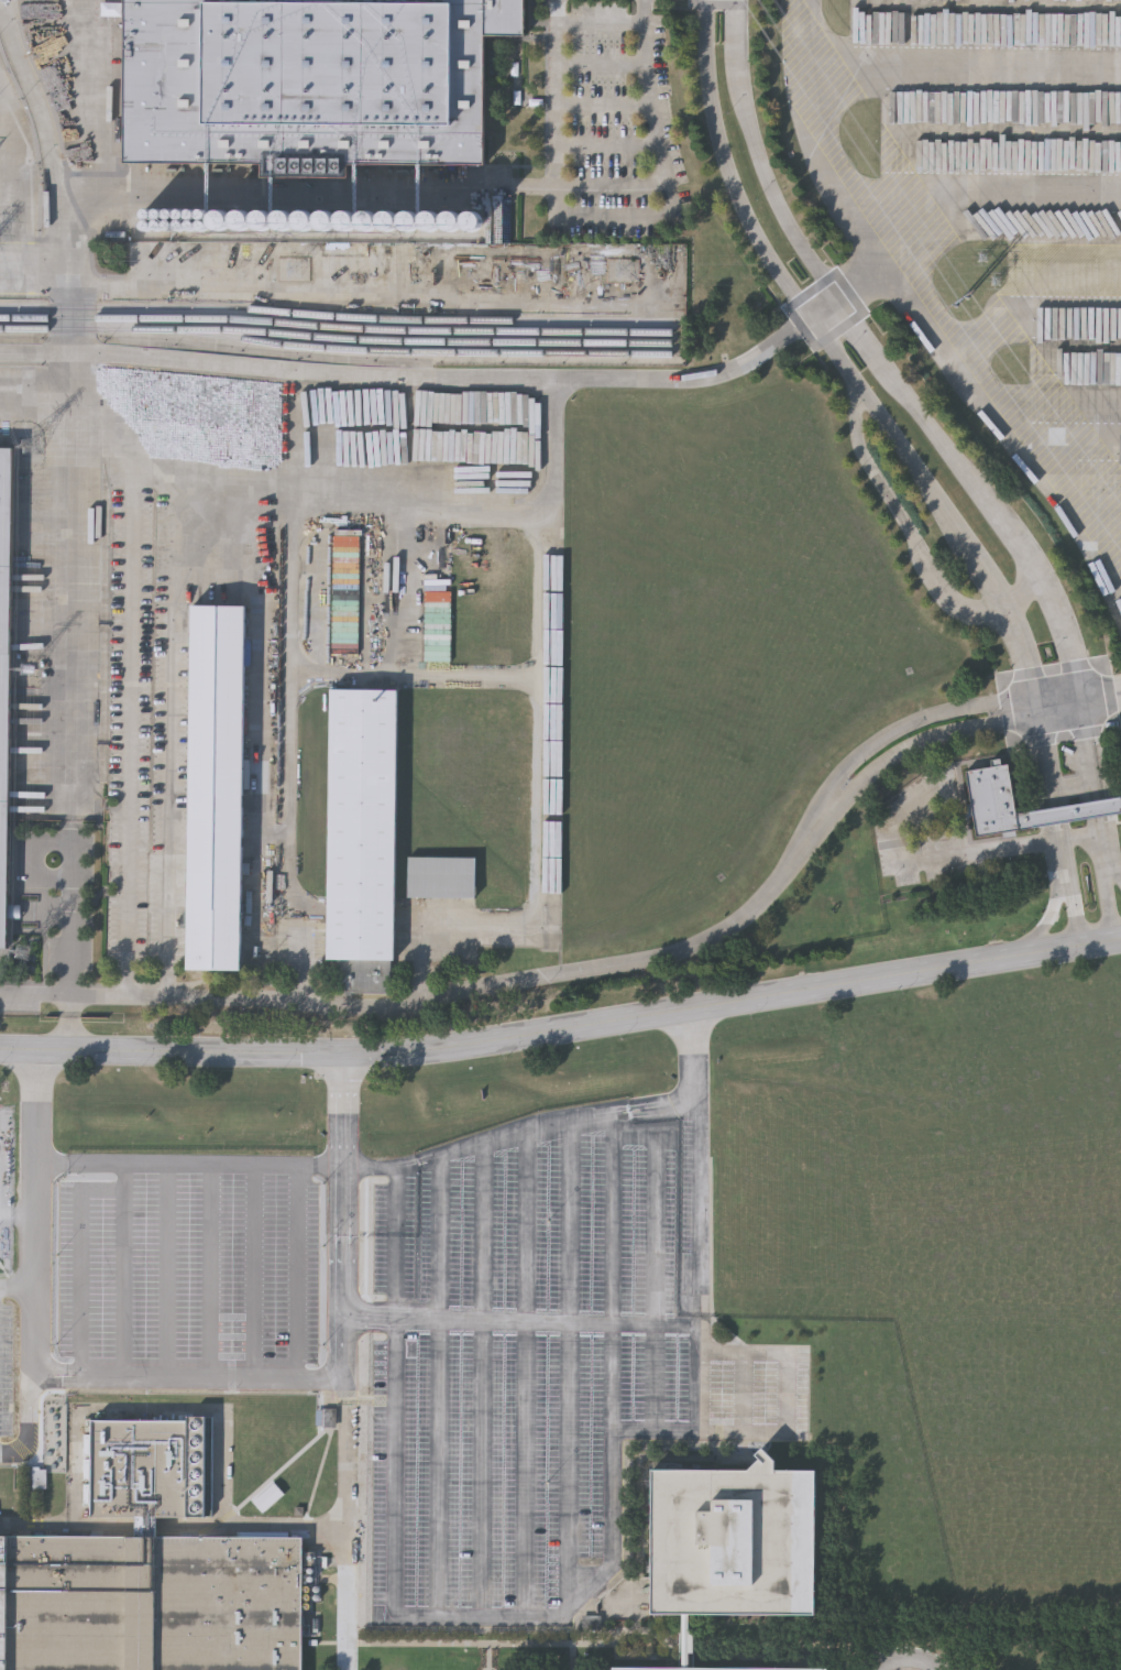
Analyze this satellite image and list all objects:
building: (309, 78)
road: (554, 92)
road: (39, 107)
road: (815, 142)
road: (768, 153)
road: (728, 166)
road: (90, 182)
road: (498, 187)
building: (265, 199)
power tower: (986, 271)
power tower: (627, 274)
power tower: (961, 303)
road: (822, 305)
railway: (337, 316)
road: (1033, 317)
railway: (336, 328)
railway: (416, 341)
railway: (334, 348)
road: (29, 354)
road: (442, 374)
road: (987, 397)
road: (1069, 438)
road: (372, 512)
road: (68, 572)
road: (1047, 586)
road: (1002, 604)
building: (4, 665)
road: (421, 675)
road: (1101, 692)
road: (1101, 700)
road: (1042, 705)
road: (292, 708)
road: (136, 722)
road: (903, 728)
road: (171, 733)
road: (912, 746)
building: (217, 788)
road: (552, 811)
building: (1068, 814)
building: (363, 838)
road: (955, 858)
road: (1115, 872)
building: (440, 876)
road: (1052, 920)
road: (450, 993)
road: (68, 1023)
road: (563, 1030)
road: (697, 1072)
road: (634, 1106)
road: (635, 1115)
road: (483, 1145)
road: (273, 1166)
road: (36, 1188)
road: (699, 1199)
road: (396, 1232)
road: (656, 1260)
road: (81, 1262)
road: (125, 1270)
road: (168, 1271)
road: (211, 1271)
road: (257, 1271)
road: (615, 1276)
road: (780, 1355)
road: (350, 1362)
road: (568, 1368)
road: (527, 1374)
road: (190, 1377)
road: (485, 1380)
road: (31, 1384)
road: (439, 1385)
road: (701, 1389)
road: (744, 1394)
road: (174, 1412)
road: (399, 1467)
building: (733, 1548)
building: (151, 1601)
road: (483, 1616)
building: (694, 1641)

